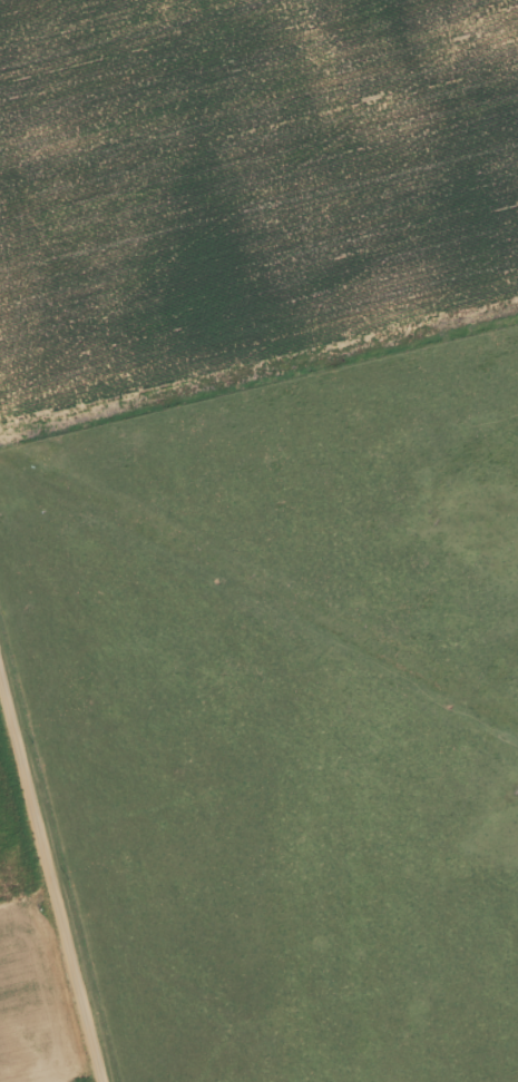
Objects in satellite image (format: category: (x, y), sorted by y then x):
road: (52, 876)

